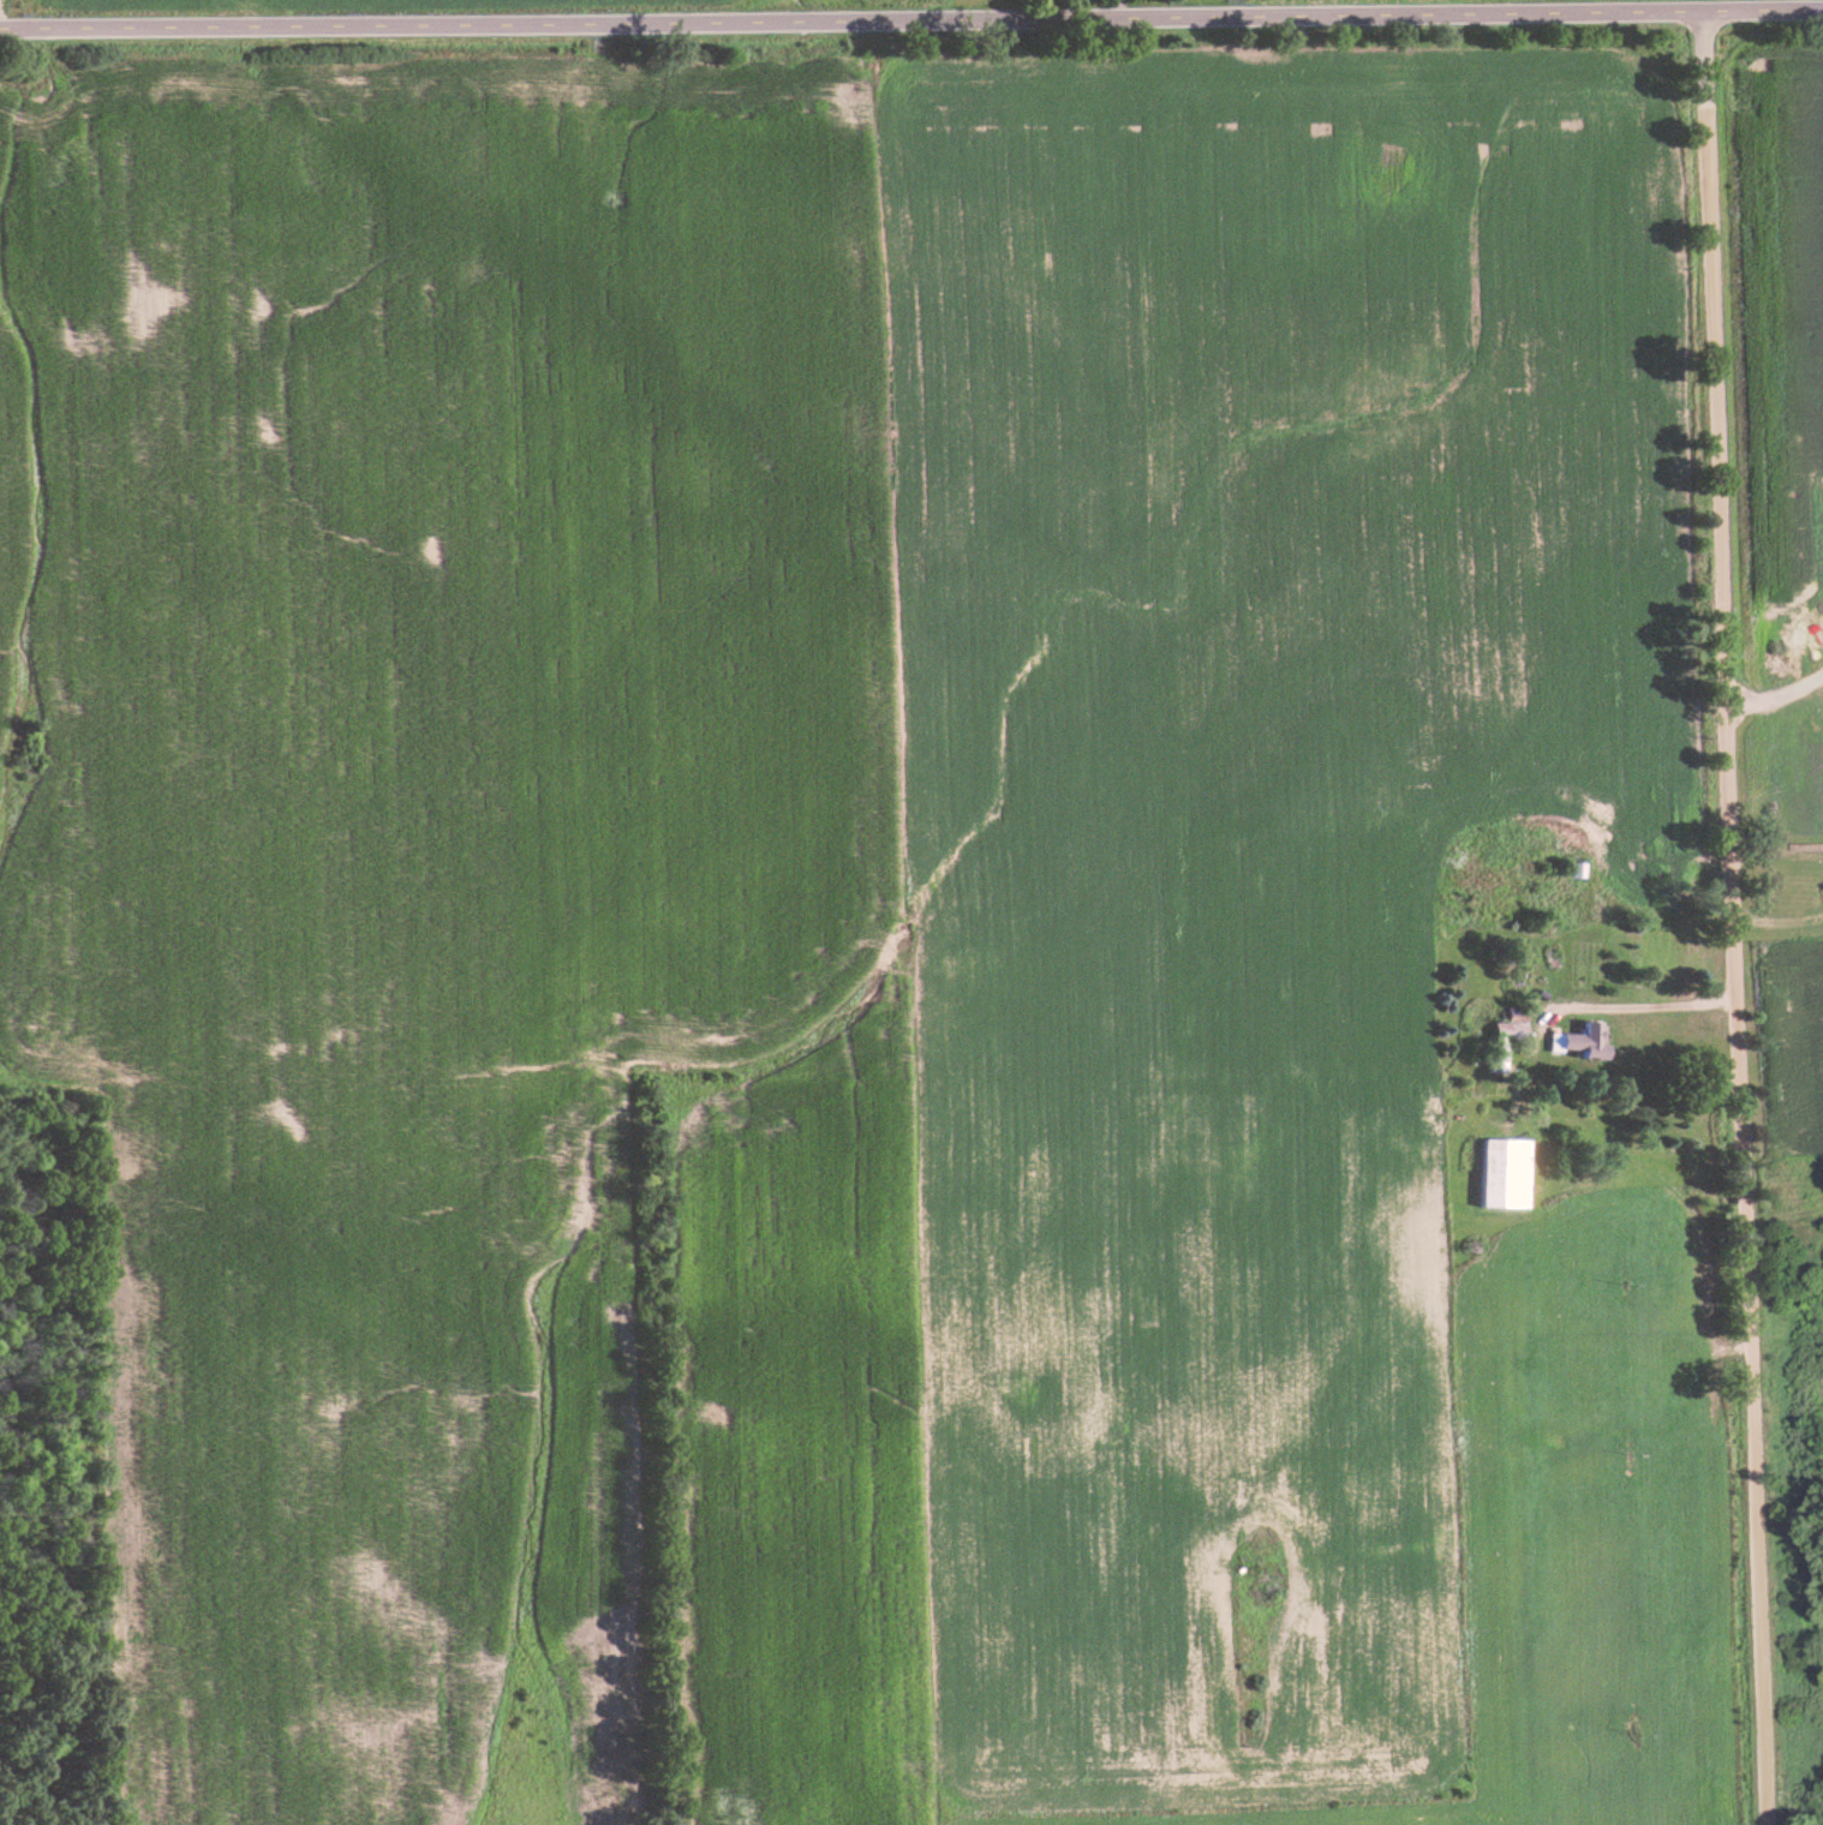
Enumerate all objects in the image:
road: (911, 16)
road: (1775, 702)
road: (1775, 855)
building: (1578, 869)
building: (1822, 904)
road: (1729, 917)
building: (1516, 991)
road: (1634, 1011)
building: (1583, 1041)
building: (1504, 1043)
building: (1508, 1174)

